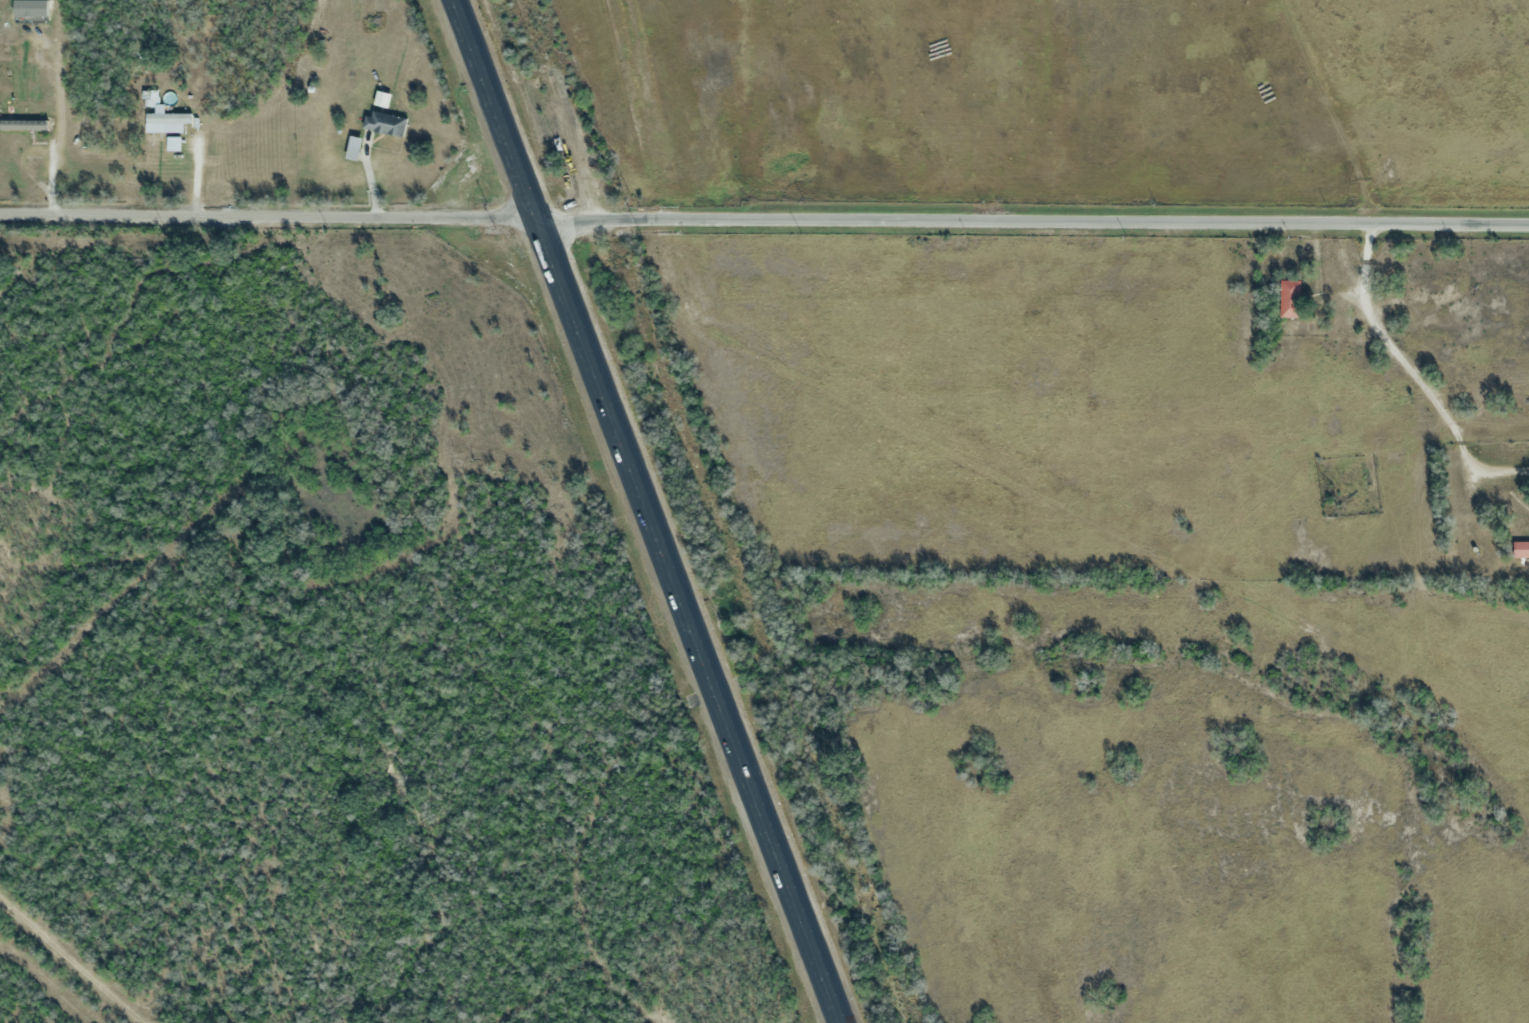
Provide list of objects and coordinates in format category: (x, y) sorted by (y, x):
building: (385, 123)
road: (269, 214)
road: (1033, 220)
building: (1289, 297)
road: (1419, 374)
road: (649, 511)
building: (1520, 548)

